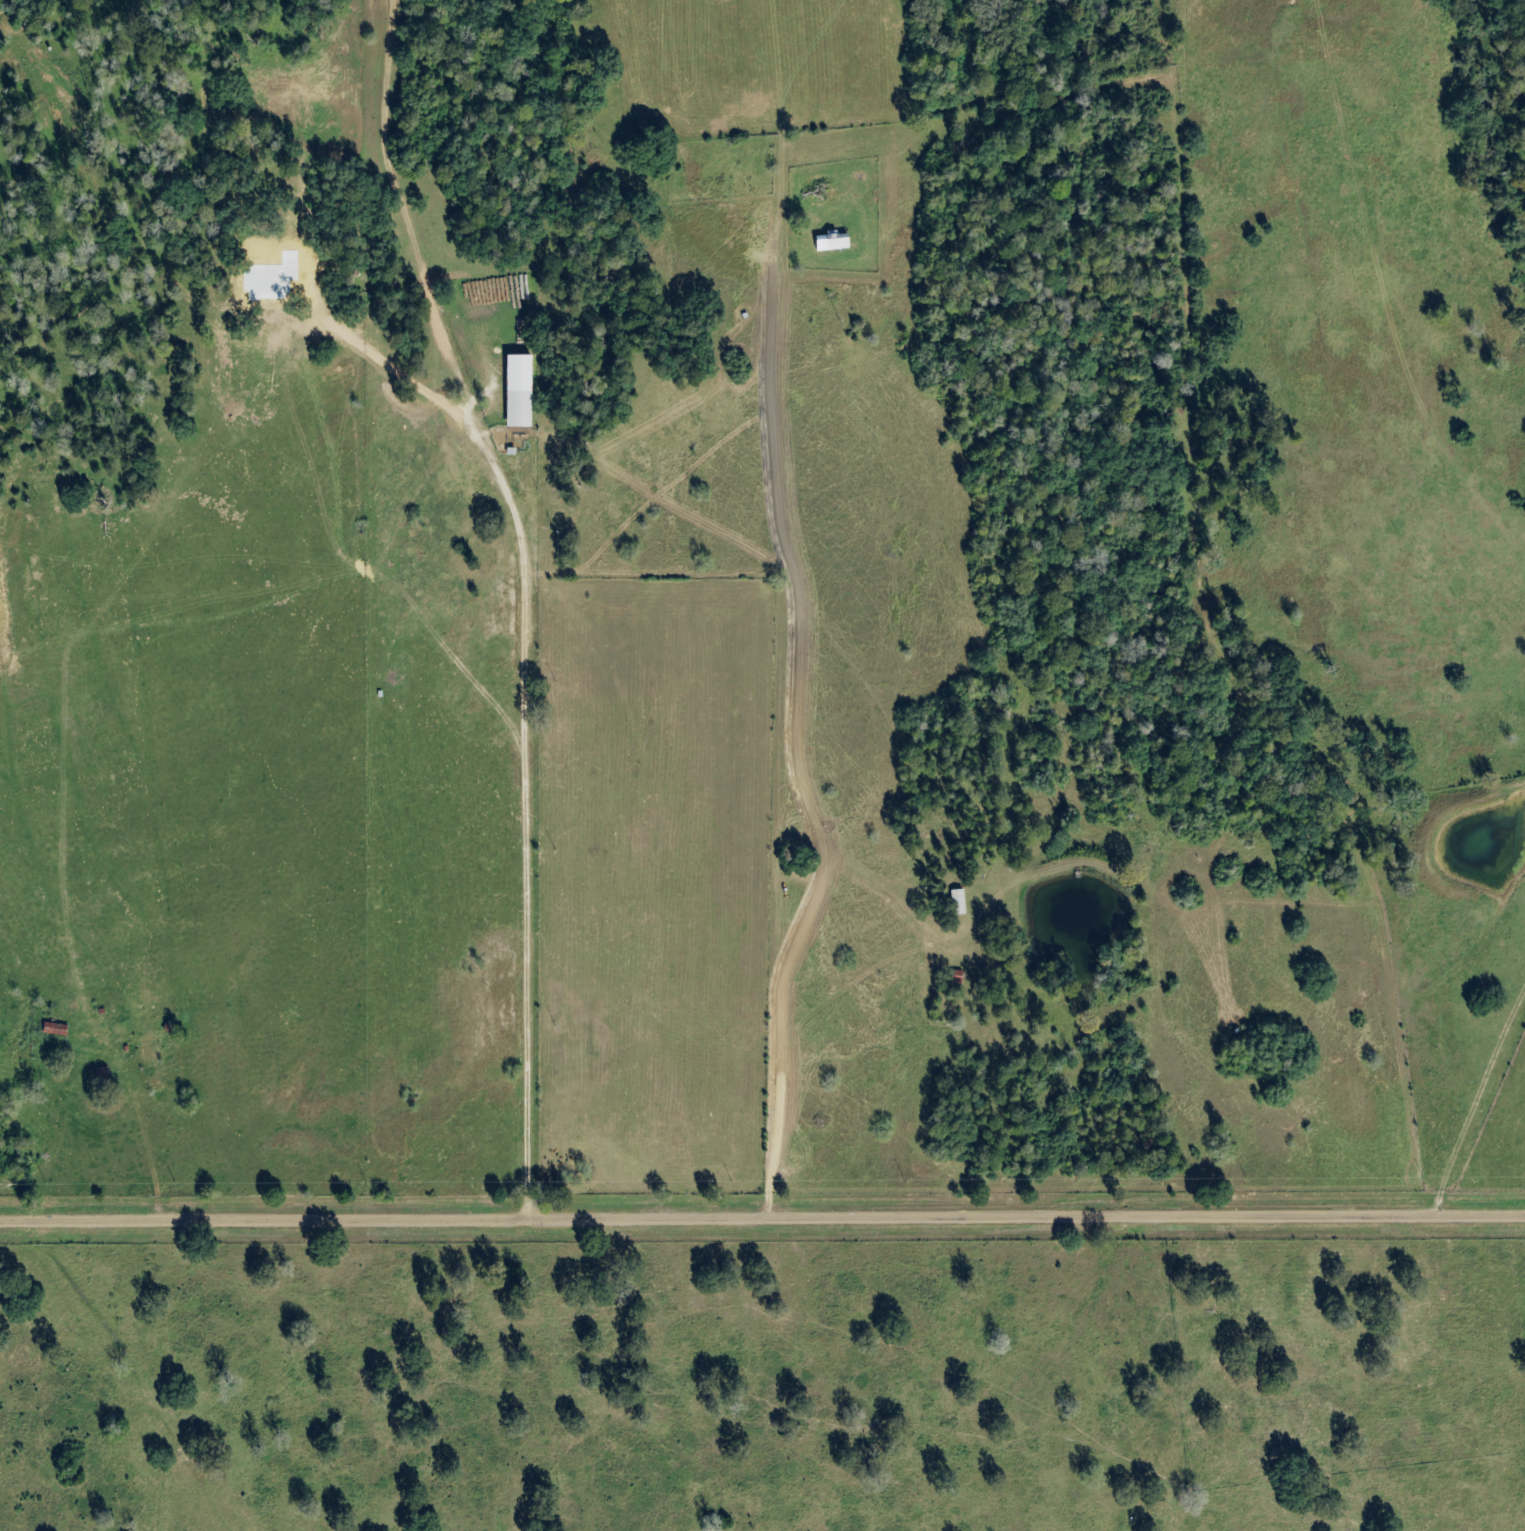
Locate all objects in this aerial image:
building: (839, 241)
building: (520, 410)
road: (783, 741)
building: (959, 903)
building: (57, 1030)
building: (149, 1049)
building: (102, 1076)
road: (146, 1122)
road: (762, 1212)

